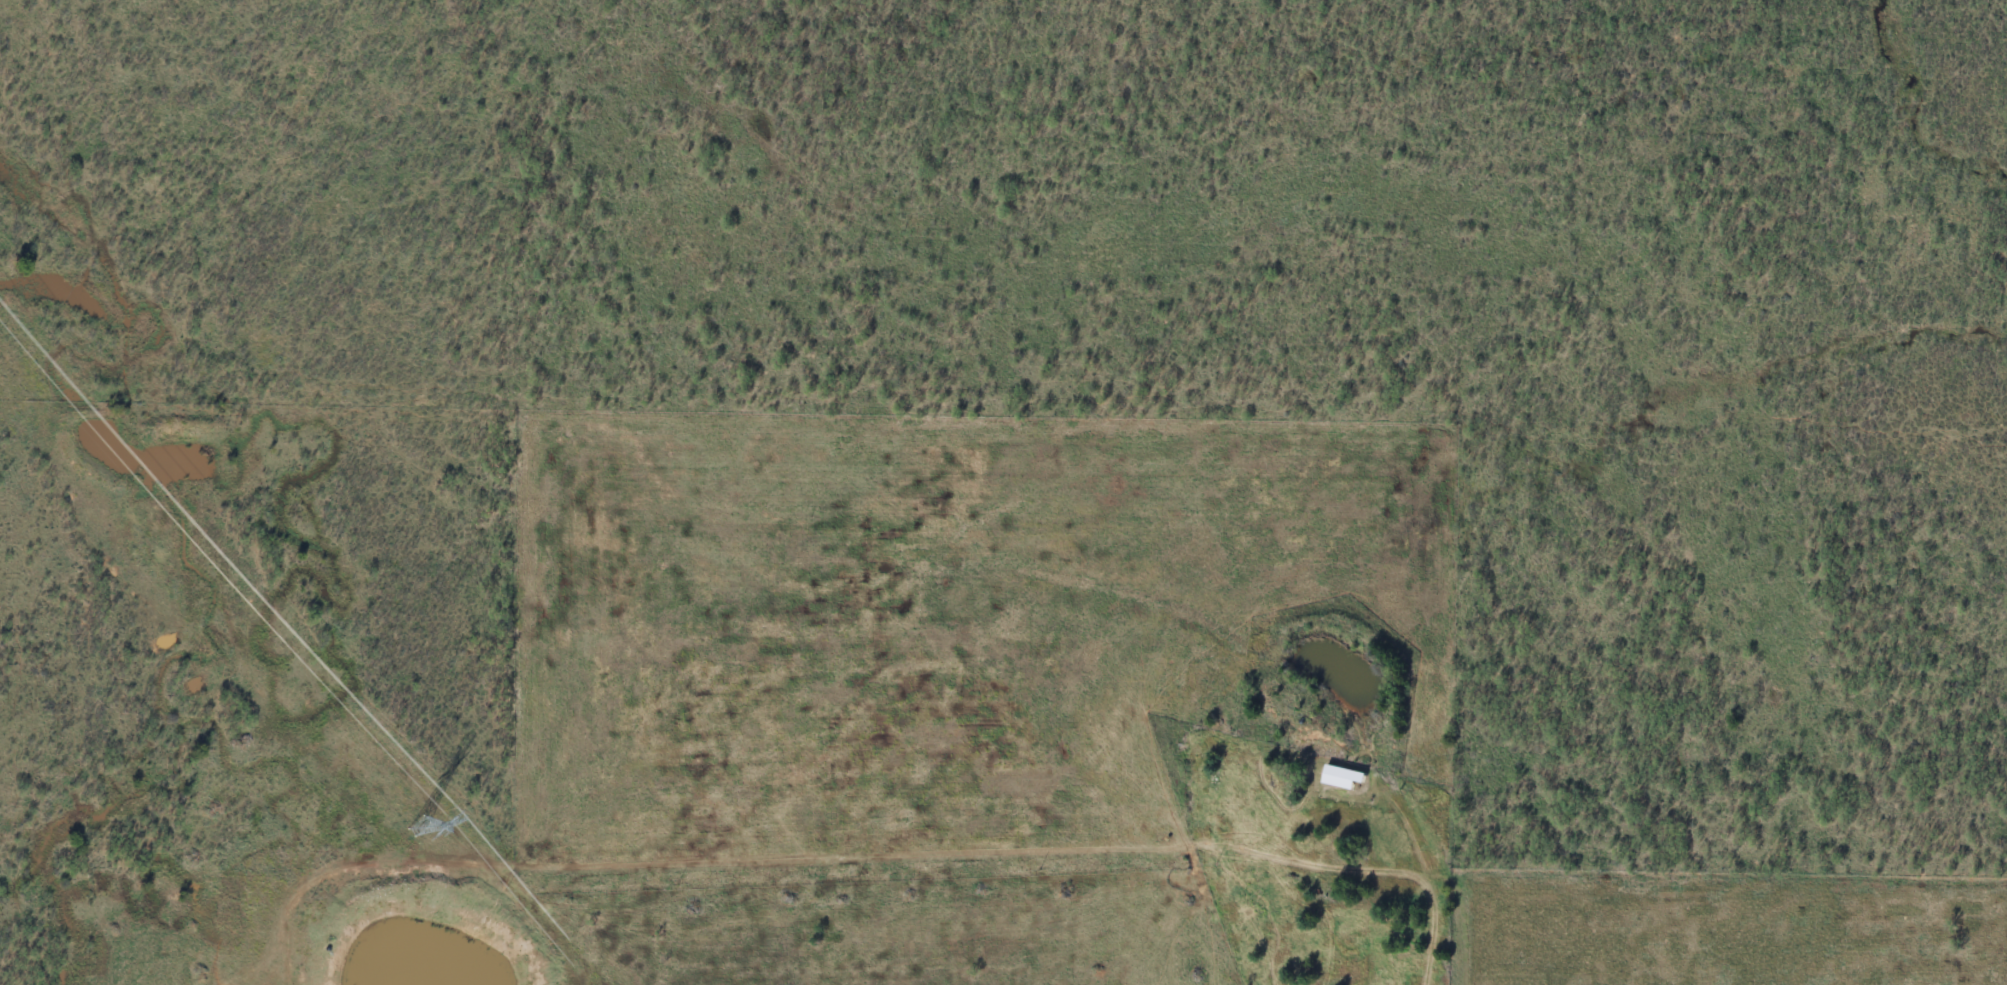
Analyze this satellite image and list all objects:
power tower: (416, 825)
building: (1235, 844)
building: (1245, 883)
building: (1380, 931)

